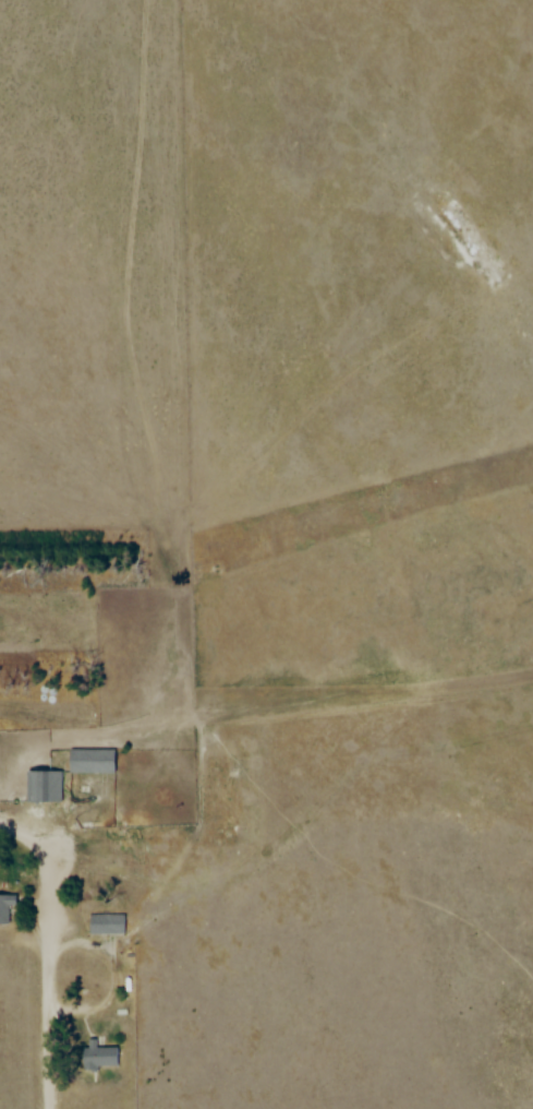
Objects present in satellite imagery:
building: (93, 761)
building: (45, 786)
building: (7, 907)
building: (99, 923)
building: (100, 1053)
road: (48, 1077)

